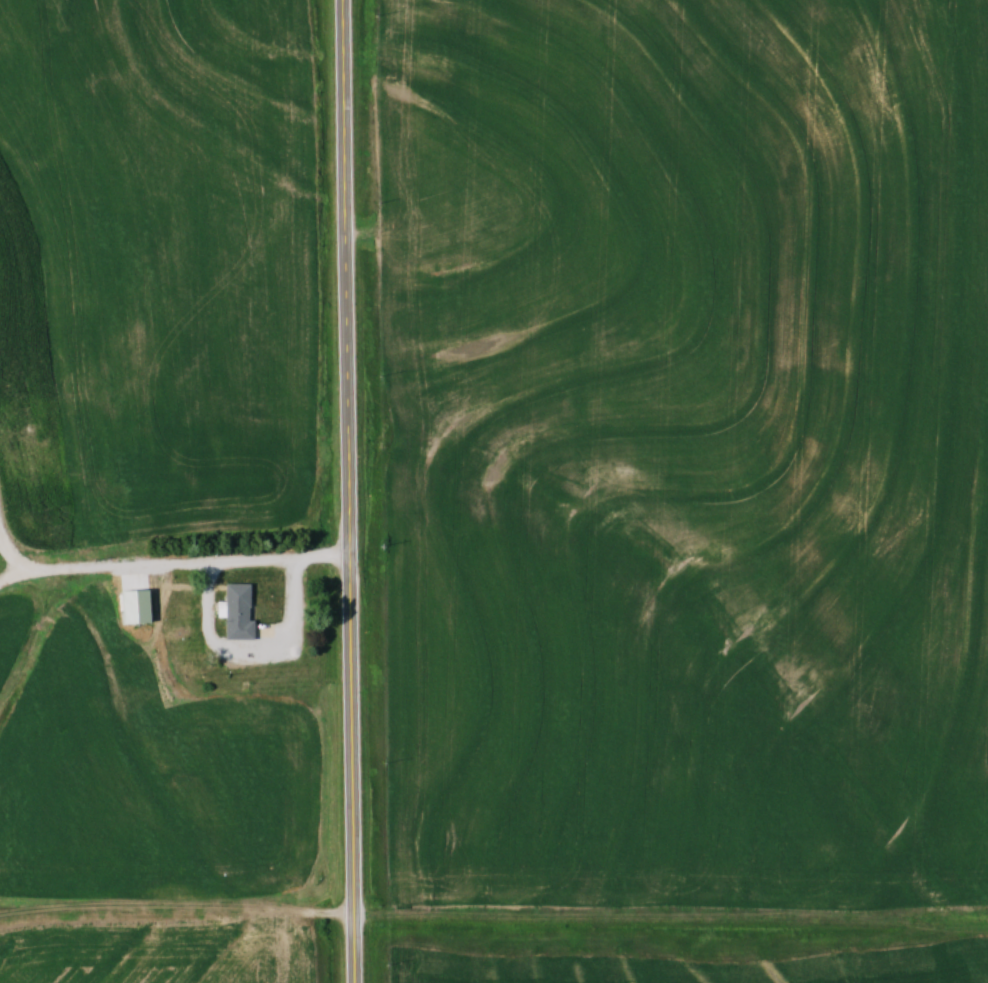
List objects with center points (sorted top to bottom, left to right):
road: (347, 491)
road: (8, 555)
road: (112, 565)
road: (9, 576)
building: (236, 612)
road: (206, 613)

